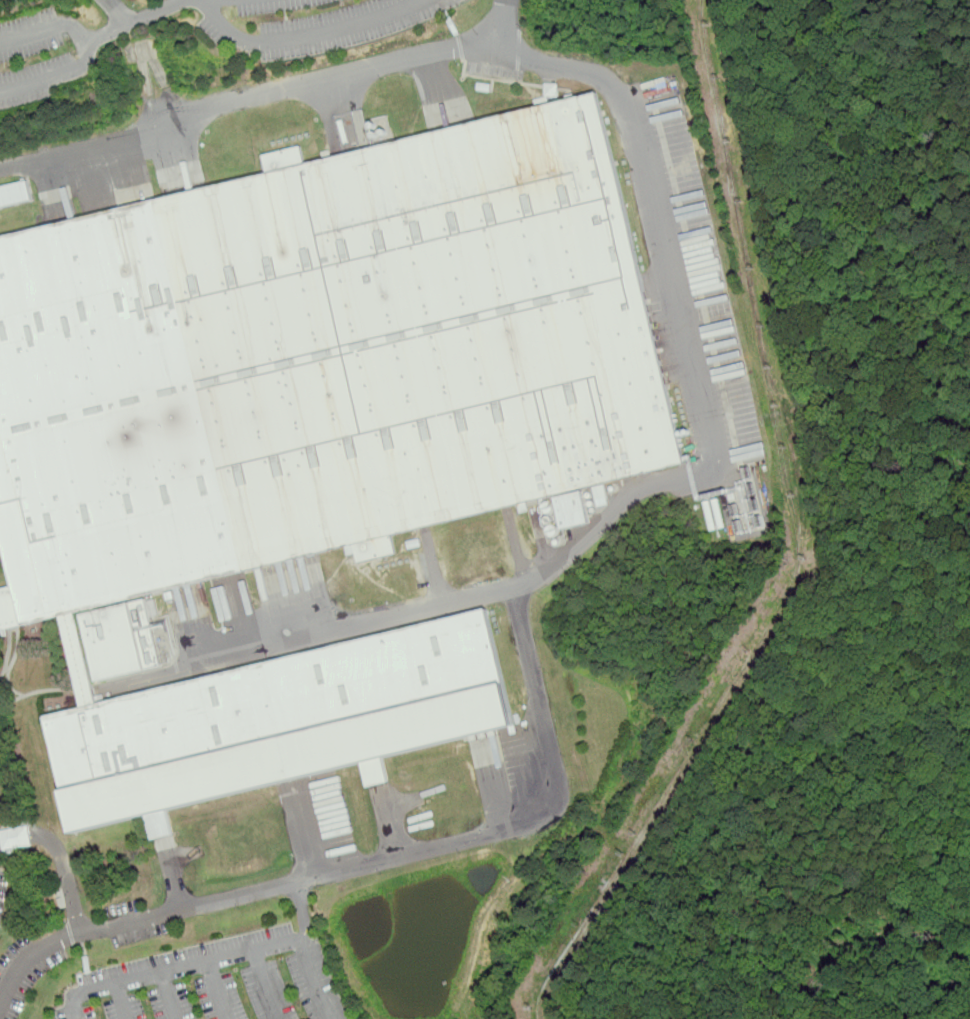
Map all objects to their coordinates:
road: (121, 11)
road: (136, 21)
road: (502, 25)
road: (304, 35)
road: (88, 49)
building: (483, 87)
building: (671, 128)
building: (14, 193)
road: (675, 280)
building: (312, 427)
building: (602, 496)
building: (572, 510)
building: (415, 544)
road: (519, 547)
road: (435, 570)
road: (240, 617)
building: (120, 640)
road: (497, 788)
road: (393, 822)
road: (307, 831)
building: (11, 851)
road: (62, 860)
road: (376, 862)
road: (173, 876)
road: (305, 911)
road: (218, 958)
road: (265, 985)
road: (217, 990)
road: (170, 995)
road: (121, 1001)

